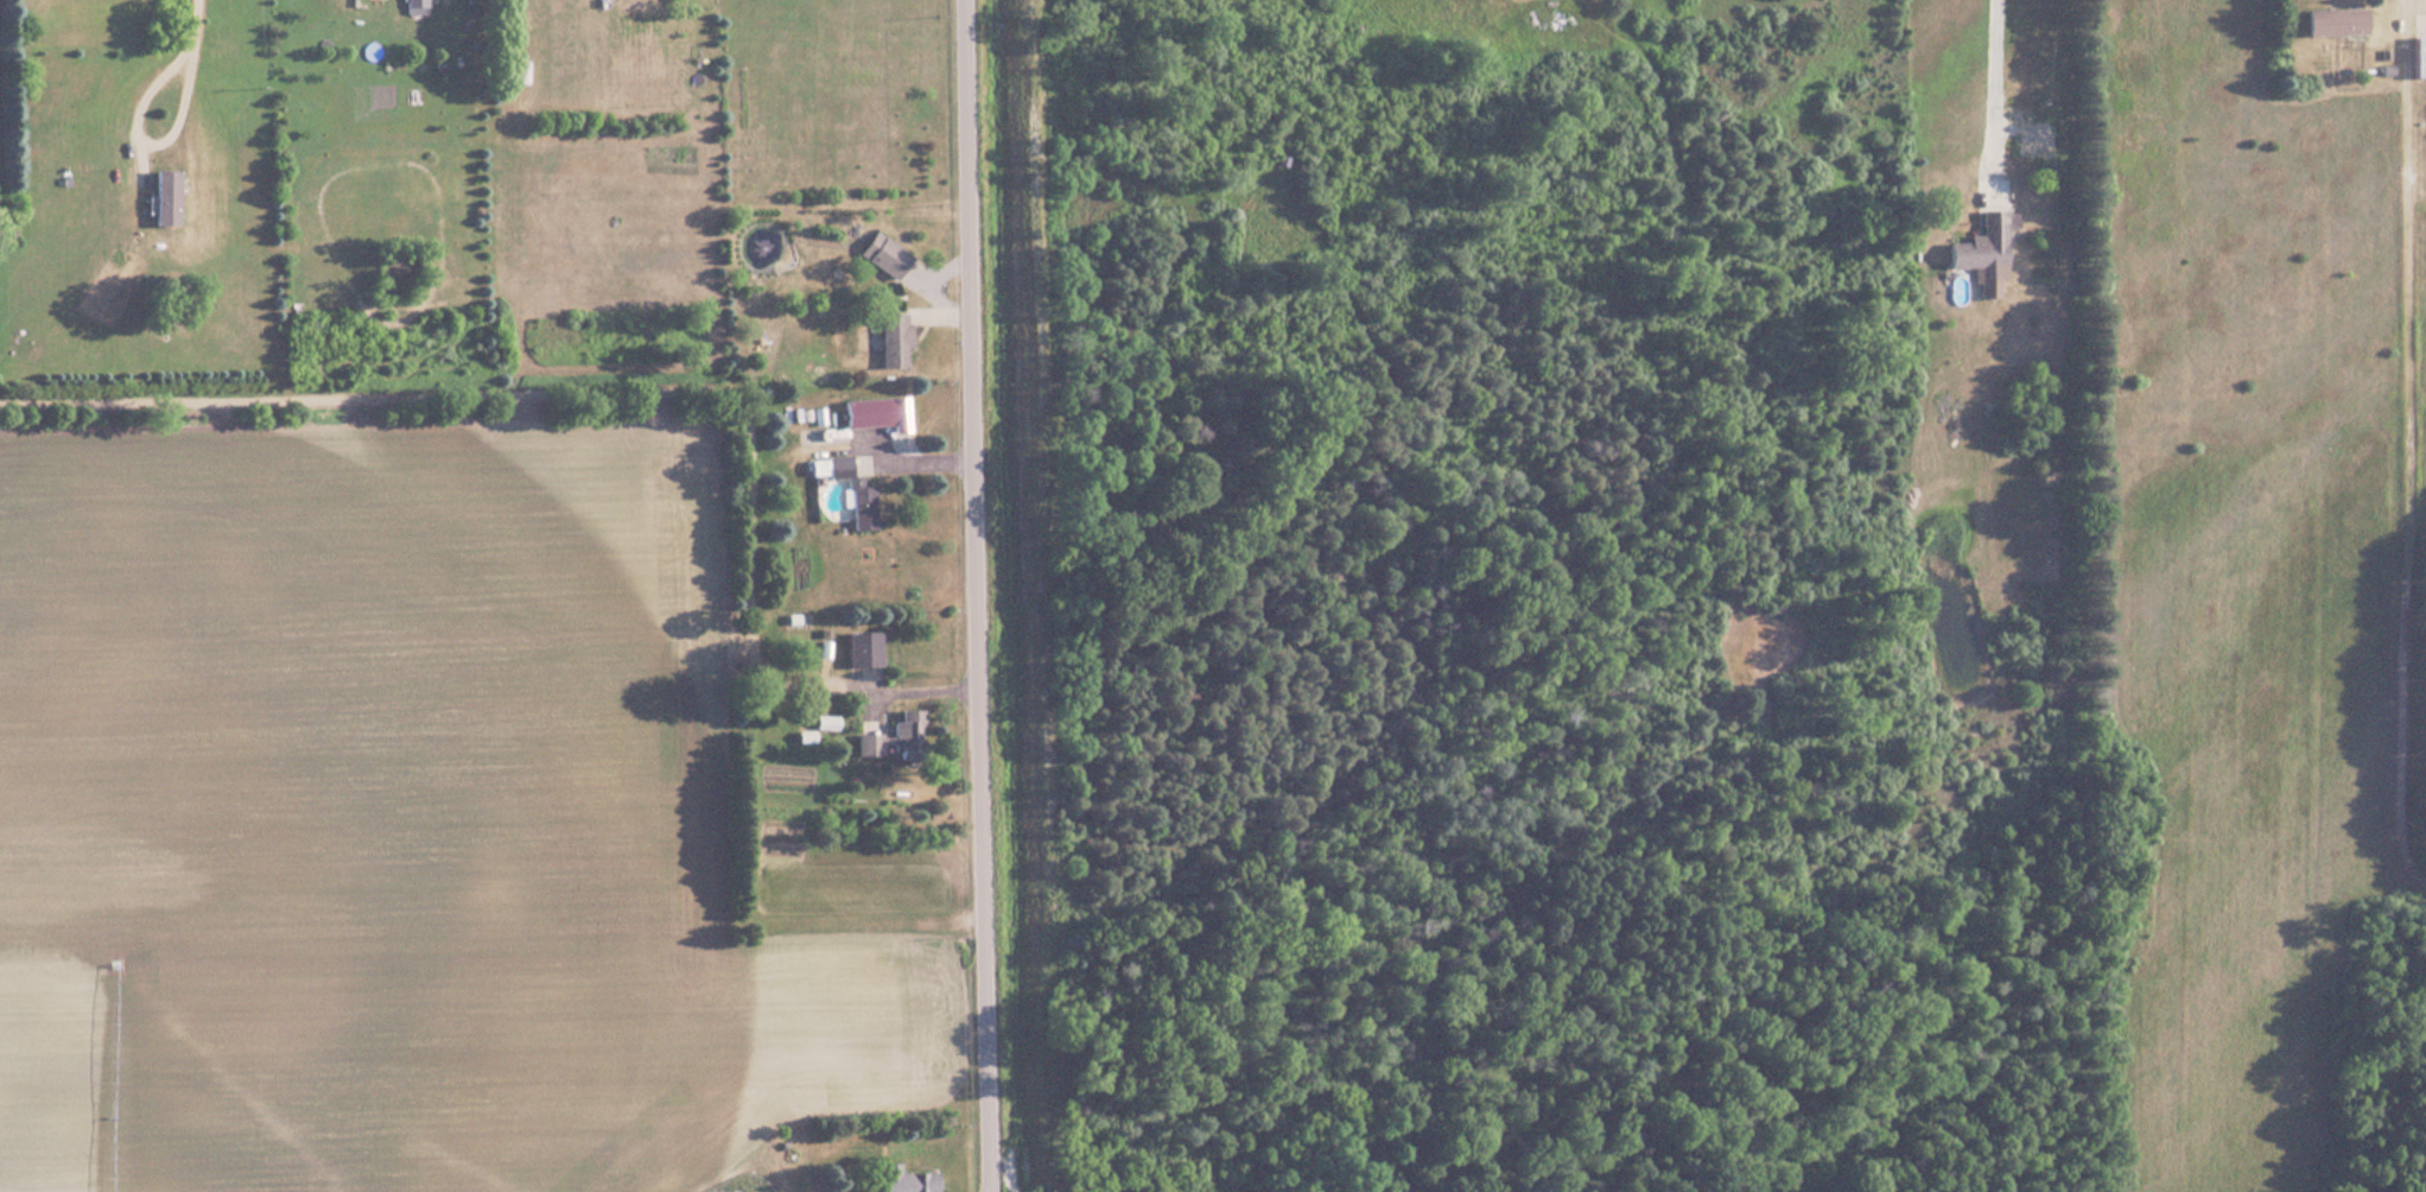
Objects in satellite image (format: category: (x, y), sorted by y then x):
building: (414, 6)
road: (193, 14)
building: (2331, 23)
building: (2417, 57)
road: (1995, 87)
building: (2053, 113)
road: (146, 126)
building: (164, 199)
building: (1982, 242)
building: (881, 254)
building: (890, 338)
building: (872, 413)
building: (826, 467)
building: (859, 507)
road: (983, 596)
building: (859, 647)
building: (893, 737)
building: (903, 1180)

